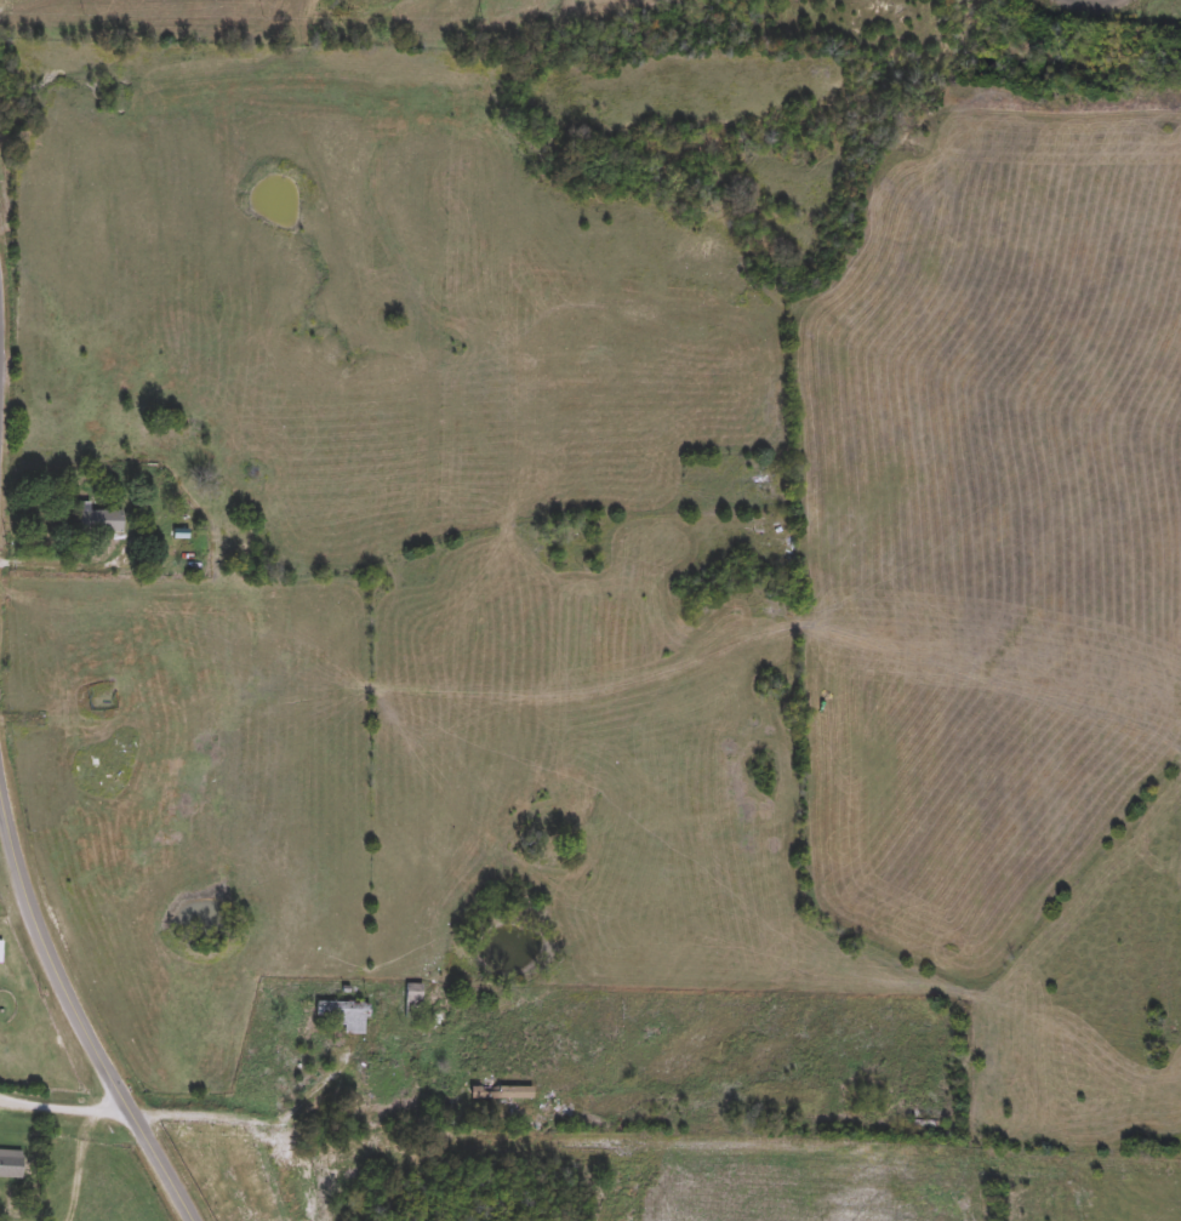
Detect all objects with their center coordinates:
road: (0, 331)
building: (102, 523)
road: (65, 566)
building: (96, 681)
building: (1, 952)
building: (415, 1000)
building: (348, 1016)
road: (78, 1025)
building: (503, 1094)
road: (62, 1111)
road: (256, 1126)
building: (13, 1164)

